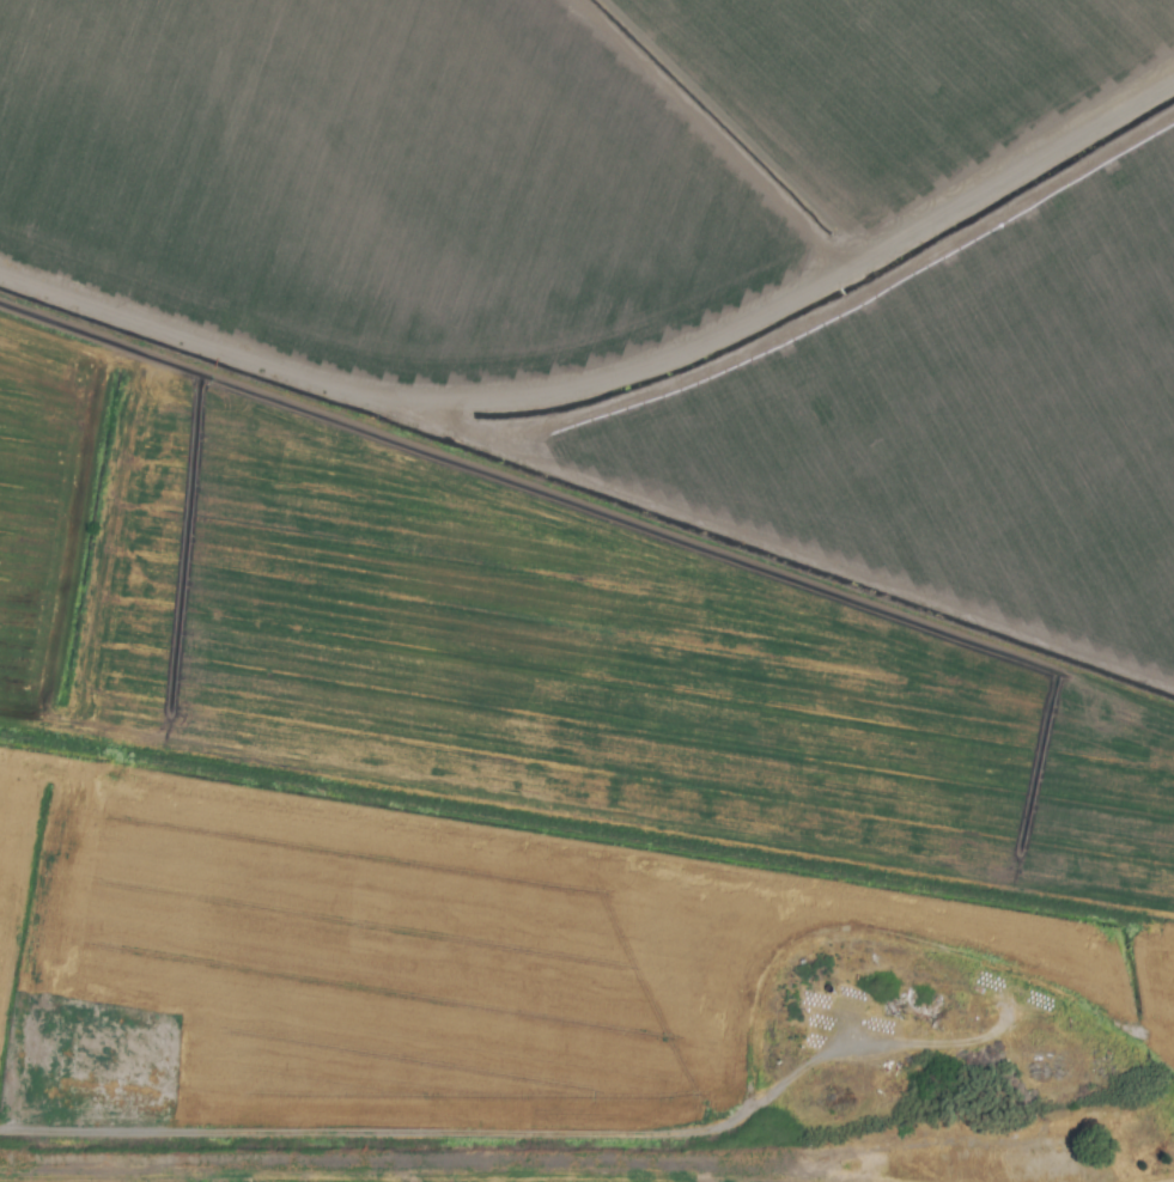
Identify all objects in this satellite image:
crop: (586, 591)
road: (1073, 1080)
road: (511, 1137)

